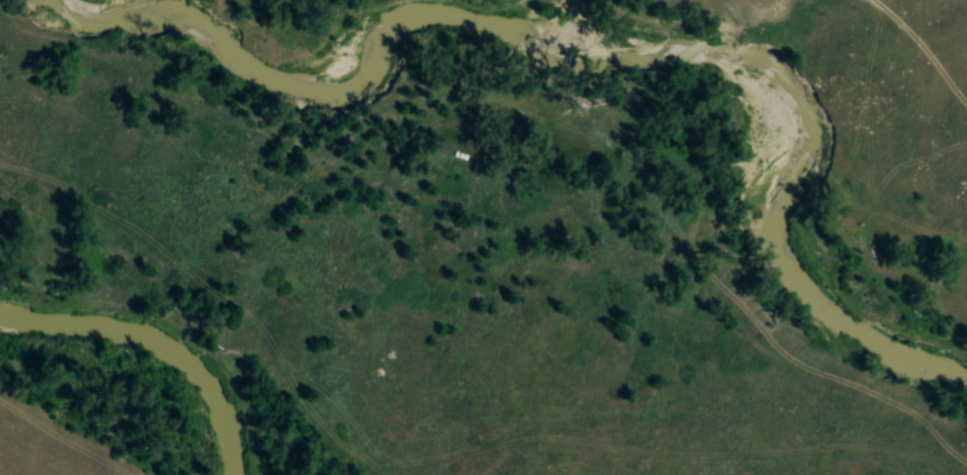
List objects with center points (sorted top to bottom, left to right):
river: (585, 54)
road: (894, 67)
river: (157, 343)

